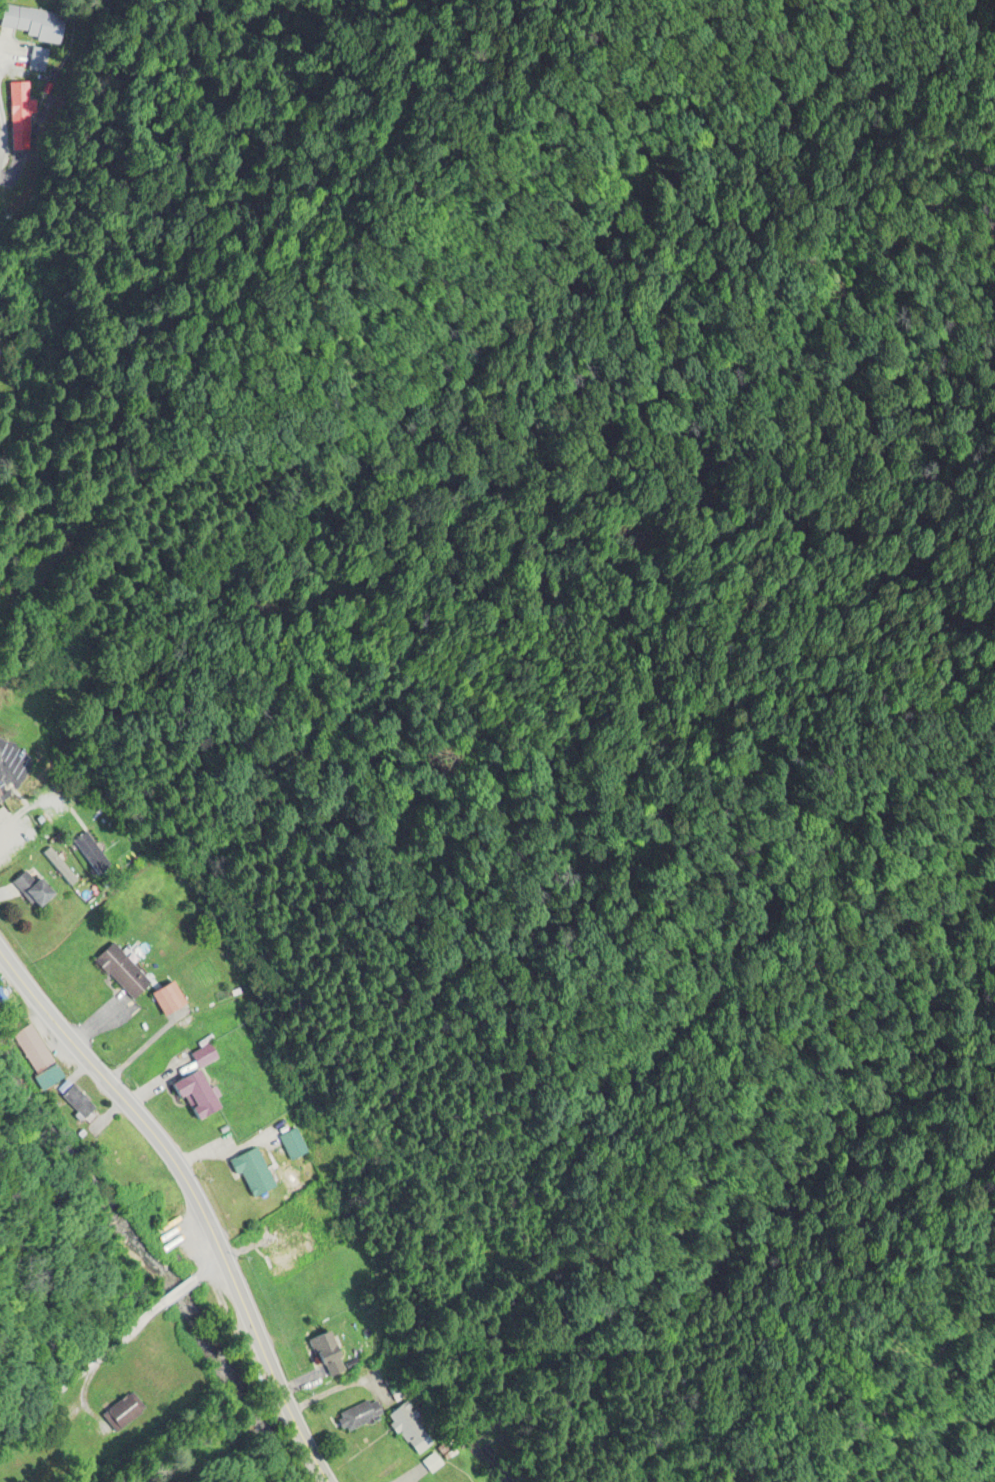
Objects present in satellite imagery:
building: (28, 23)
building: (34, 60)
building: (1, 791)
building: (0, 796)
building: (21, 830)
building: (33, 888)
building: (122, 971)
building: (170, 998)
building: (32, 1048)
building: (47, 1077)
building: (200, 1085)
building: (75, 1099)
building: (292, 1144)
road: (165, 1149)
building: (253, 1173)
building: (277, 1255)
road: (110, 1351)
building: (329, 1355)
building: (358, 1415)
road: (307, 1428)
building: (410, 1430)
building: (433, 1462)

